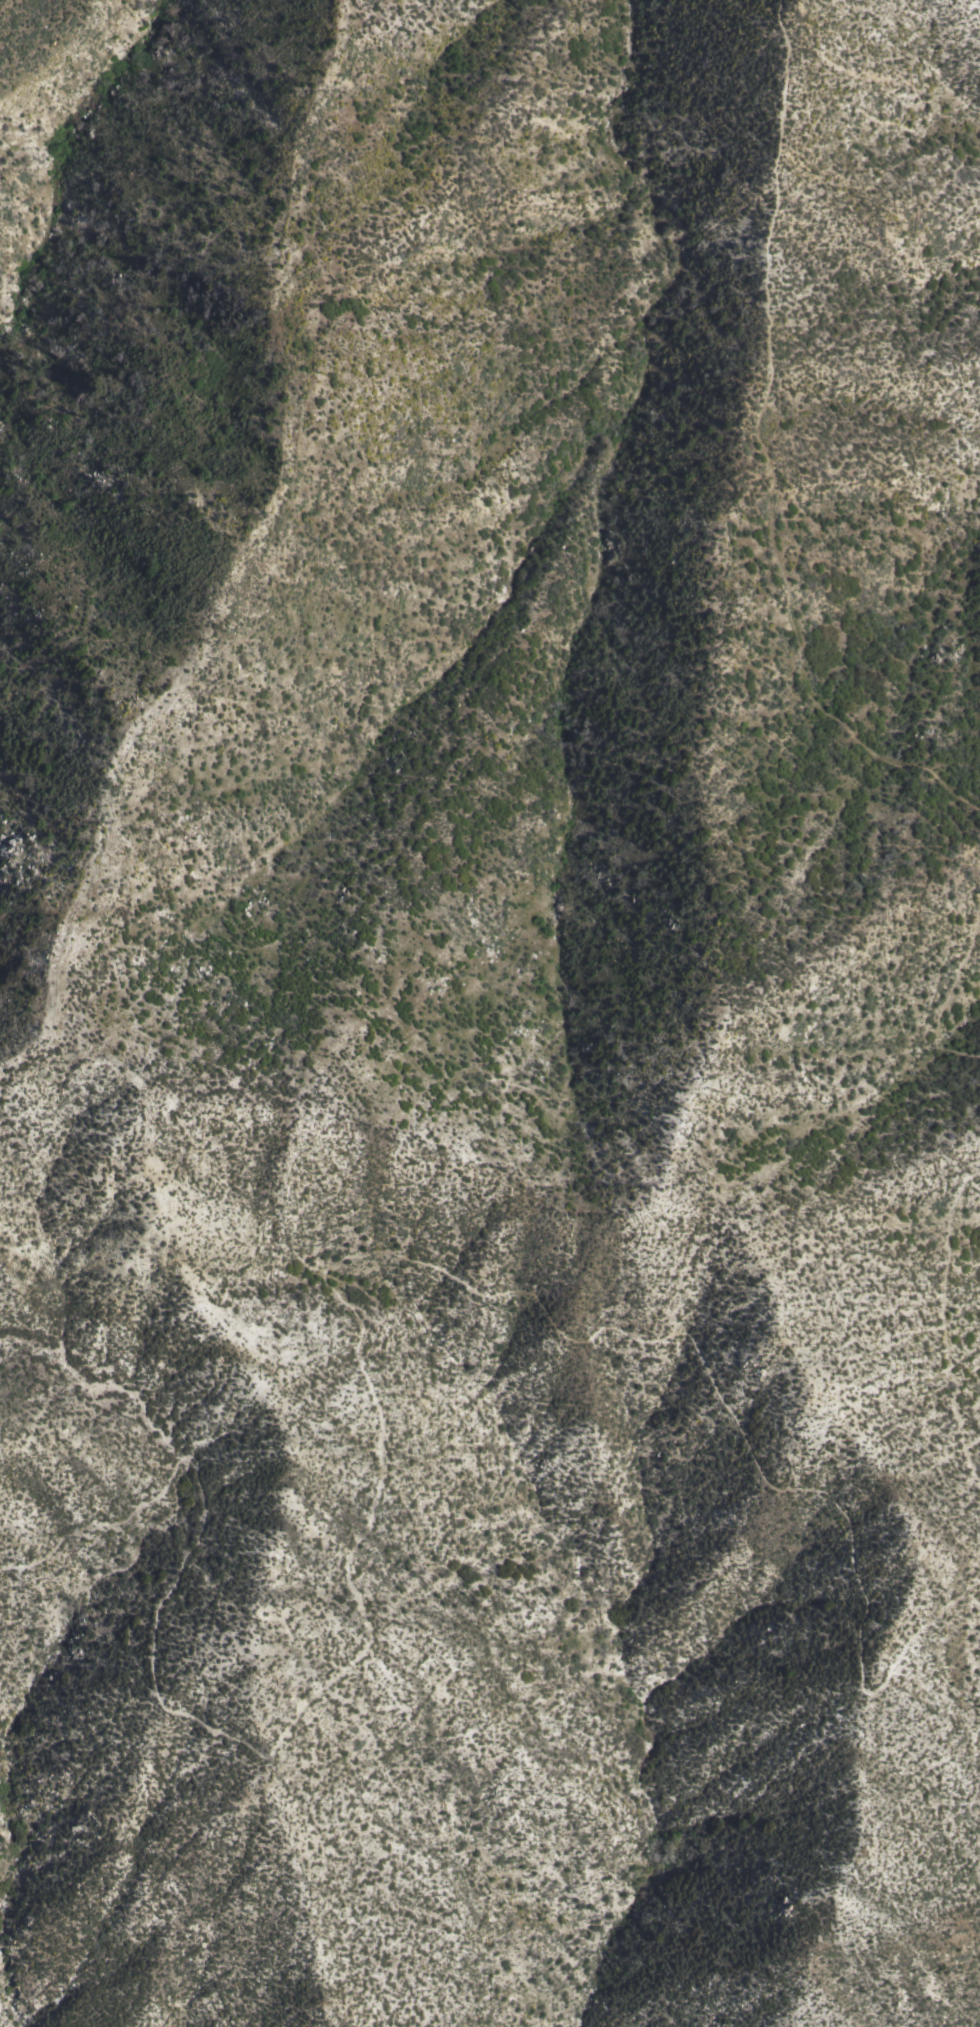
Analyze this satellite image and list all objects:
road: (763, 451)
road: (950, 990)
road: (942, 1322)
road: (358, 1334)

